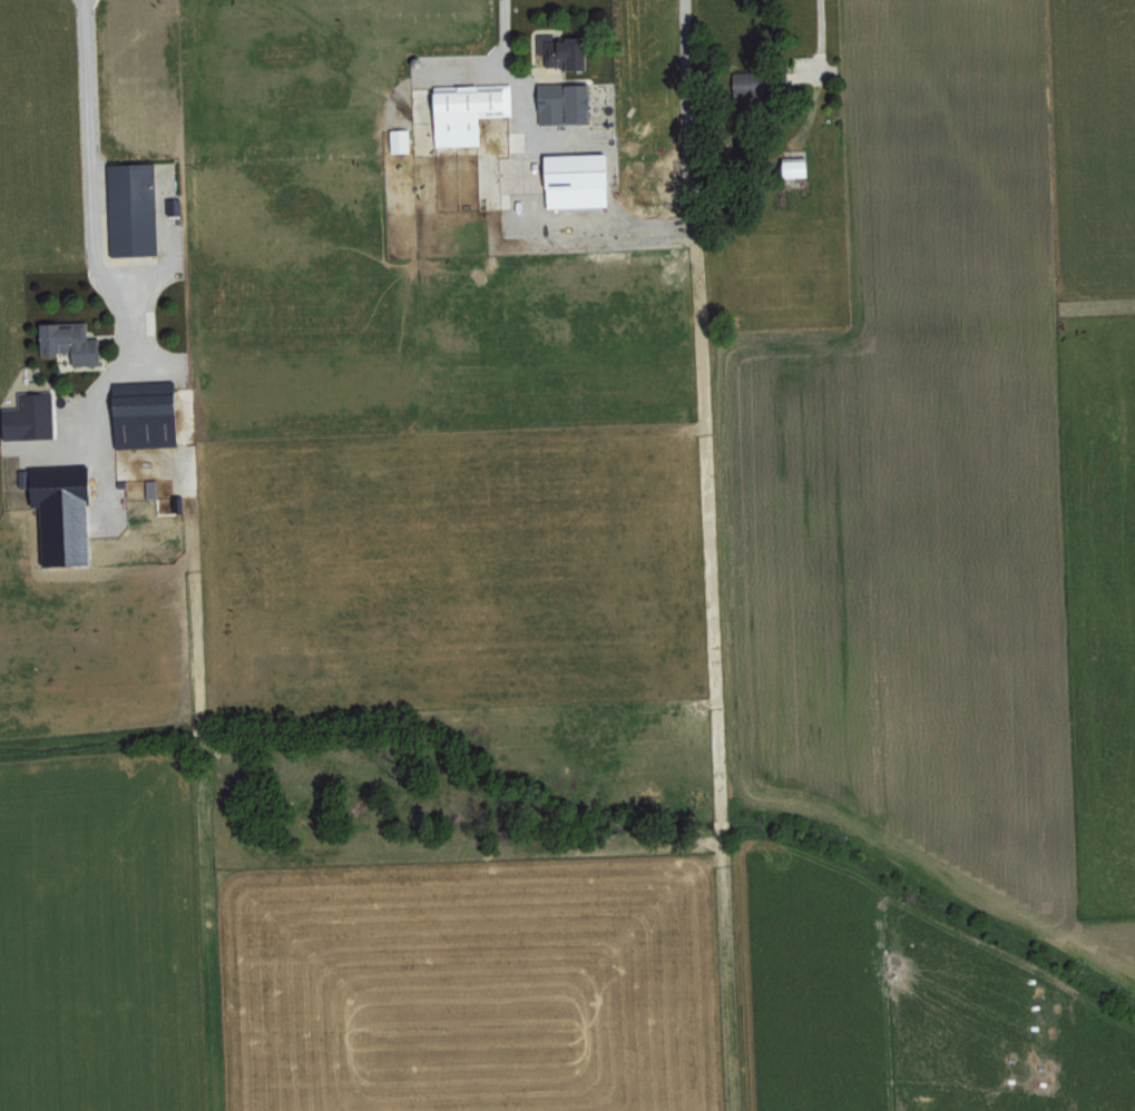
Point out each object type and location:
building: (571, 52)
building: (764, 80)
building: (568, 102)
building: (470, 111)
building: (402, 140)
building: (581, 180)
road: (94, 200)
building: (136, 209)
road: (611, 223)
building: (76, 342)
building: (33, 417)
building: (151, 420)

